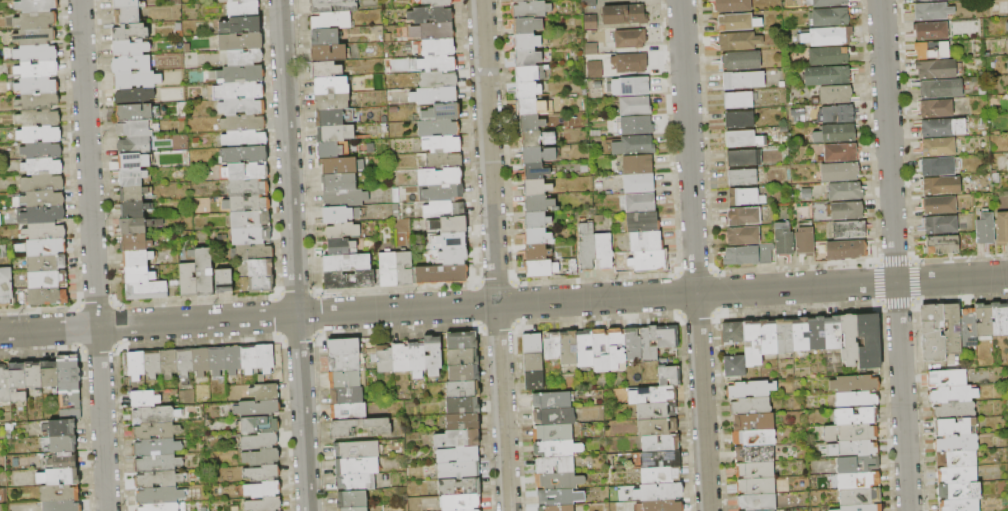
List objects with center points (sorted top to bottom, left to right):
building: (229, 0)
building: (521, 0)
building: (607, 0)
building: (915, 0)
building: (922, 0)
building: (434, 2)
building: (124, 3)
building: (588, 3)
building: (827, 3)
building: (36, 5)
building: (728, 5)
building: (344, 6)
building: (242, 8)
building: (528, 8)
building: (929, 11)
building: (126, 14)
building: (429, 14)
building: (623, 14)
building: (829, 16)
building: (329, 19)
building: (36, 20)
building: (589, 22)
building: (736, 22)
building: (240, 24)
building: (524, 24)
building: (1006, 26)
building: (431, 30)
building: (127, 31)
building: (929, 31)
building: (34, 36)
building: (324, 36)
building: (827, 36)
building: (629, 38)
building: (239, 41)
building: (523, 41)
building: (737, 41)
building: (437, 46)
building: (129, 47)
building: (929, 50)
building: (35, 52)
building: (328, 52)
building: (243, 57)
building: (826, 57)
building: (526, 58)
building: (739, 61)
building: (436, 62)
building: (130, 63)
building: (630, 63)
building: (1006, 65)
building: (37, 68)
building: (324, 68)
building: (934, 69)
building: (240, 73)
building: (524, 74)
building: (591, 74)
building: (827, 75)
building: (437, 78)
building: (135, 79)
building: (741, 80)
building: (36, 84)
building: (330, 85)
building: (625, 86)
building: (938, 88)
building: (237, 90)
building: (523, 90)
building: (132, 95)
building: (433, 95)
building: (835, 95)
building: (330, 100)
building: (738, 100)
building: (37, 101)
building: (241, 105)
building: (634, 105)
building: (527, 106)
building: (934, 108)
building: (132, 111)
building: (441, 111)
building: (838, 113)
building: (37, 116)
building: (328, 116)
building: (738, 120)
building: (242, 122)
building: (528, 122)
building: (635, 125)
building: (437, 127)
building: (940, 127)
building: (133, 128)
building: (333, 132)
building: (39, 133)
building: (834, 133)
building: (243, 138)
building: (537, 138)
building: (742, 139)
building: (441, 143)
building: (133, 145)
building: (632, 145)
building: (936, 147)
building: (41, 149)
building: (327, 149)
road: (488, 152)
building: (839, 152)
building: (242, 154)
building: (537, 154)
building: (742, 158)
building: (442, 159)
building: (131, 160)
building: (1007, 160)
road: (87, 162)
building: (337, 164)
building: (636, 164)
building: (42, 165)
building: (935, 166)
building: (246, 170)
building: (533, 171)
building: (838, 172)
building: (443, 175)
building: (130, 176)
building: (741, 177)
building: (337, 181)
building: (42, 182)
building: (637, 183)
building: (938, 185)
building: (247, 186)
building: (535, 187)
building: (443, 191)
building: (844, 191)
building: (131, 192)
building: (343, 197)
building: (744, 197)
building: (42, 198)
building: (537, 202)
building: (638, 202)
building: (248, 203)
building: (937, 205)
building: (133, 208)
building: (443, 208)
building: (846, 211)
building: (43, 214)
building: (334, 214)
building: (740, 216)
building: (597, 218)
building: (535, 219)
building: (0, 220)
building: (260, 220)
building: (641, 221)
building: (447, 224)
building: (938, 224)
building: (137, 225)
building: (1001, 229)
building: (44, 230)
building: (341, 230)
building: (849, 230)
building: (984, 230)
building: (239, 235)
building: (536, 235)
building: (741, 236)
building: (450, 239)
building: (645, 241)
building: (782, 241)
building: (133, 242)
building: (803, 242)
building: (940, 244)
building: (339, 245)
building: (34, 247)
building: (586, 247)
building: (850, 249)
building: (251, 251)
building: (602, 251)
building: (535, 252)
building: (746, 254)
road: (293, 255)
building: (451, 255)
road: (693, 255)
road: (894, 255)
building: (135, 257)
building: (647, 260)
building: (346, 262)
building: (35, 263)
building: (259, 266)
building: (402, 267)
building: (538, 267)
building: (572, 267)
building: (386, 268)
building: (202, 270)
building: (440, 273)
building: (136, 274)
building: (47, 278)
building: (186, 279)
building: (348, 279)
building: (222, 280)
building: (173, 282)
building: (260, 283)
building: (5, 286)
road: (752, 289)
building: (145, 290)
building: (47, 295)
building: (1007, 312)
road: (296, 315)
building: (998, 318)
building: (981, 319)
building: (966, 326)
road: (48, 328)
building: (950, 328)
building: (831, 332)
building: (732, 333)
building: (815, 333)
building: (930, 333)
building: (799, 334)
building: (667, 336)
building: (782, 336)
building: (766, 337)
building: (848, 339)
building: (460, 340)
building: (867, 340)
building: (750, 343)
building: (531, 344)
building: (632, 344)
building: (648, 344)
building: (551, 345)
building: (342, 347)
building: (567, 348)
building: (583, 348)
building: (600, 350)
building: (617, 350)
building: (431, 355)
building: (461, 356)
building: (263, 357)
building: (247, 358)
building: (382, 358)
building: (399, 358)
building: (415, 359)
building: (216, 360)
building: (231, 360)
building: (200, 361)
building: (183, 362)
building: (532, 362)
building: (167, 363)
building: (342, 363)
building: (151, 364)
building: (135, 365)
building: (733, 366)
building: (461, 373)
building: (33, 374)
building: (49, 374)
building: (668, 374)
building: (945, 378)
building: (260, 379)
building: (342, 379)
building: (68, 380)
building: (534, 380)
building: (16, 381)
building: (854, 383)
building: (4, 384)
building: (747, 388)
building: (460, 389)
building: (264, 392)
building: (950, 394)
building: (345, 395)
building: (650, 395)
building: (142, 398)
building: (855, 399)
building: (551, 401)
building: (460, 405)
building: (748, 405)
road: (502, 407)
building: (256, 409)
building: (952, 410)
building: (347, 411)
building: (645, 411)
building: (69, 414)
building: (152, 415)
building: (553, 416)
building: (854, 416)
road: (101, 418)
building: (460, 421)
building: (753, 422)
building: (259, 424)
building: (360, 426)
building: (950, 426)
building: (61, 427)
building: (645, 427)
building: (154, 431)
building: (849, 432)
building: (551, 433)
building: (752, 437)
building: (455, 438)
building: (259, 441)
building: (954, 442)
building: (62, 443)
building: (659, 443)
building: (155, 447)
building: (856, 448)
building: (355, 449)
building: (570, 449)
building: (753, 453)
building: (456, 454)
building: (260, 457)
building: (954, 459)
building: (660, 460)
building: (63, 461)
building: (156, 463)
building: (856, 464)
building: (554, 465)
building: (355, 466)
building: (457, 470)
building: (753, 470)
building: (261, 473)
building: (955, 474)
building: (58, 476)
building: (649, 476)
building: (157, 479)
building: (857, 480)
building: (558, 481)
building: (354, 483)
building: (458, 486)
building: (754, 486)
building: (262, 490)
building: (957, 491)
building: (70, 492)
building: (657, 492)
building: (158, 495)
building: (559, 497)
building: (858, 497)
building: (350, 499)
building: (460, 502)
building: (755, 502)
building: (263, 504)
building: (62, 505)
building: (662, 505)
building: (957, 505)
building: (157, 507)
building: (556, 508)
building: (859, 508)
building: (352, 509)
building: (473, 510)
building: (767, 510)

